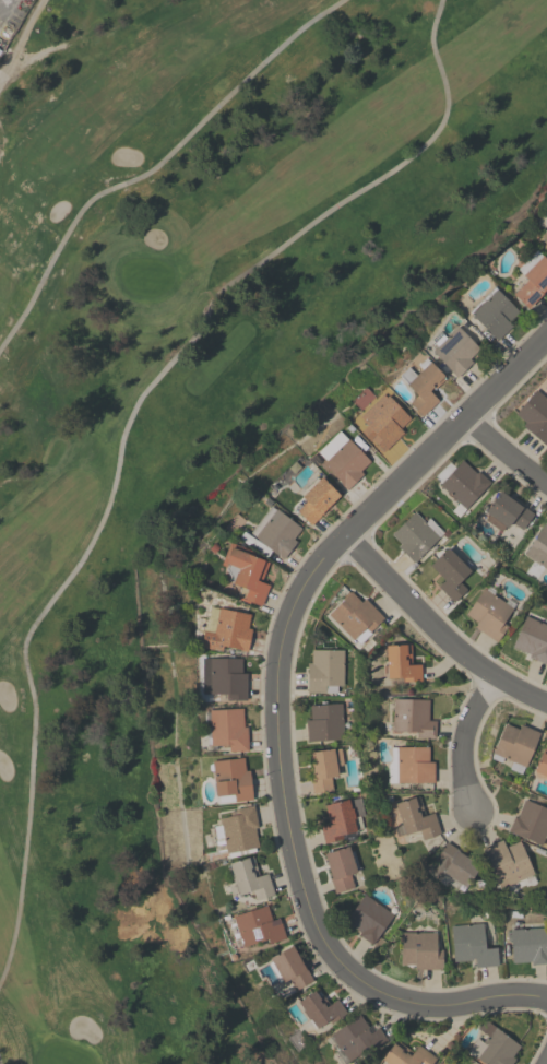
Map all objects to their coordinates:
road: (20, 36)
road: (158, 165)
building: (544, 234)
building: (532, 277)
building: (494, 312)
building: (454, 350)
building: (423, 385)
building: (535, 416)
building: (383, 422)
road: (126, 433)
road: (506, 452)
building: (346, 463)
building: (461, 484)
building: (317, 500)
building: (507, 512)
building: (272, 534)
building: (416, 536)
building: (538, 547)
building: (246, 572)
building: (450, 574)
building: (490, 613)
building: (356, 617)
building: (226, 629)
road: (438, 629)
building: (533, 639)
building: (402, 663)
building: (325, 671)
building: (227, 678)
road: (277, 716)
building: (413, 718)
building: (325, 723)
building: (226, 730)
road: (462, 740)
building: (515, 746)
building: (542, 764)
building: (409, 766)
building: (324, 768)
building: (230, 780)
building: (415, 819)
building: (343, 820)
building: (531, 823)
building: (237, 831)
building: (508, 863)
building: (452, 867)
building: (342, 868)
building: (250, 878)
building: (368, 919)
building: (254, 927)
building: (474, 944)
building: (528, 945)
building: (420, 950)
building: (288, 968)
building: (320, 1008)
building: (354, 1040)
building: (495, 1047)
building: (406, 1055)
road: (0, 1062)
road: (546, 1063)

